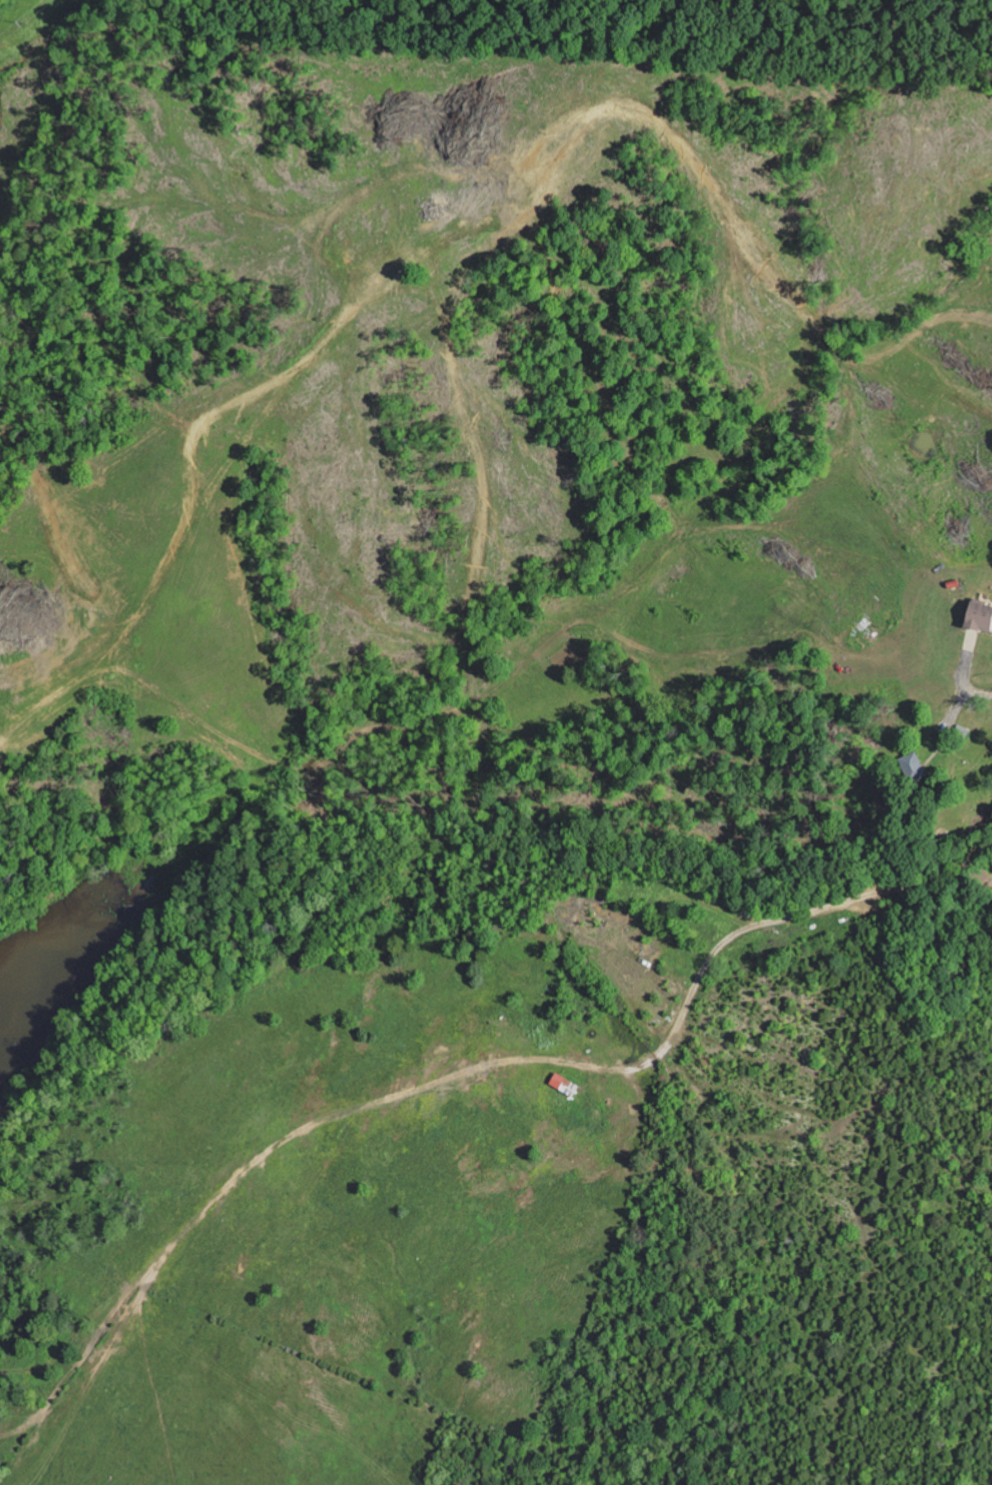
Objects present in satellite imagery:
building: (978, 617)
building: (562, 1085)

